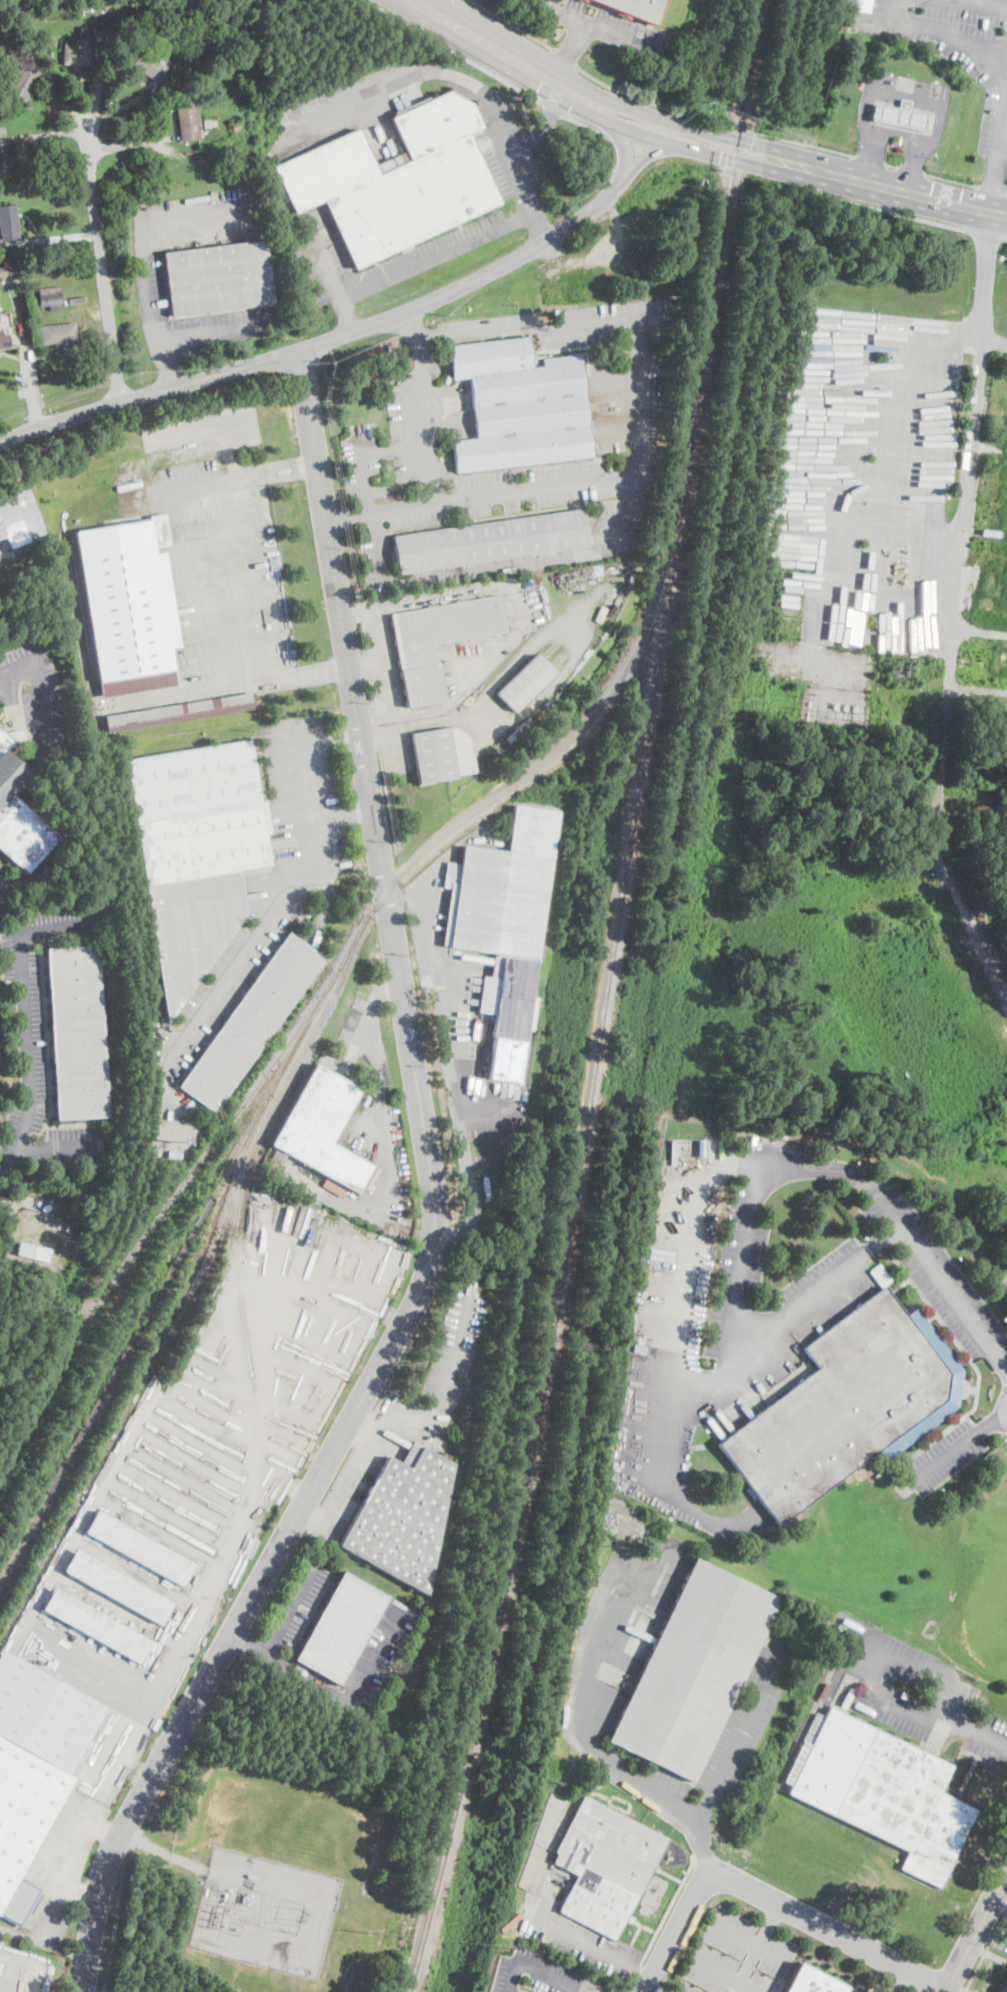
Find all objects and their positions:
road: (978, 3)
building: (857, 5)
building: (86, 6)
building: (635, 8)
road: (891, 9)
road: (511, 24)
parking lot: (608, 25)
road: (602, 28)
road: (939, 31)
road: (549, 32)
road: (481, 40)
building: (80, 47)
parking lot: (955, 47)
road: (450, 50)
road: (570, 52)
road: (567, 58)
building: (870, 61)
building: (150, 65)
building: (25, 80)
road: (559, 84)
parking lot: (908, 92)
road: (95, 93)
road: (908, 93)
road: (579, 95)
road: (68, 100)
parking lot: (359, 105)
road: (121, 108)
road: (551, 108)
road: (596, 109)
building: (902, 116)
road: (660, 118)
building: (187, 120)
road: (714, 121)
road: (542, 123)
road: (586, 126)
building: (235, 127)
road: (1002, 128)
road: (900, 130)
road: (42, 133)
road: (648, 136)
road: (286, 138)
road: (622, 139)
road: (131, 143)
road: (661, 151)
road: (712, 152)
road: (871, 152)
building: (5, 157)
road: (914, 158)
road: (870, 161)
road: (891, 166)
road: (911, 171)
building: (395, 180)
road: (952, 181)
road: (864, 182)
road: (995, 184)
road: (992, 190)
road: (1006, 193)
parking lot: (521, 200)
road: (893, 212)
building: (9, 222)
road: (540, 225)
road: (490, 232)
road: (985, 232)
road: (1006, 236)
road: (48, 238)
road: (101, 266)
building: (10, 267)
parking lot: (150, 277)
building: (217, 278)
road: (145, 284)
building: (553, 294)
building: (50, 296)
road: (87, 310)
road: (539, 326)
road: (11, 332)
building: (58, 333)
road: (330, 338)
road: (994, 339)
building: (4, 340)
road: (25, 354)
road: (166, 366)
road: (617, 380)
road: (425, 406)
building: (521, 406)
road: (620, 430)
road: (892, 434)
parking lot: (419, 442)
road: (395, 448)
parking lot: (868, 467)
road: (285, 469)
road: (364, 481)
road: (502, 494)
building: (19, 517)
road: (347, 518)
building: (490, 541)
road: (188, 551)
parking lot: (3, 552)
road: (583, 554)
parking lot: (224, 567)
road: (446, 593)
building: (130, 605)
road: (356, 608)
road: (956, 614)
road: (981, 632)
building: (439, 640)
road: (581, 640)
parking lot: (380, 658)
road: (378, 661)
road: (474, 677)
building: (525, 682)
road: (228, 688)
road: (40, 690)
parking lot: (37, 696)
power substation: (836, 704)
building: (181, 711)
road: (372, 719)
road: (409, 730)
building: (516, 732)
road: (344, 735)
road: (312, 740)
parking lot: (395, 749)
road: (397, 751)
building: (441, 754)
railway: (574, 799)
building: (19, 812)
road: (341, 817)
building: (196, 852)
road: (1, 882)
parking lot: (3, 885)
parking lot: (261, 894)
road: (326, 896)
road: (403, 898)
building: (504, 923)
railway: (362, 929)
railway: (129, 935)
road: (260, 937)
road: (385, 986)
railway: (606, 1000)
road: (436, 1002)
parking lot: (458, 1016)
building: (250, 1022)
building: (78, 1031)
parking lot: (42, 1037)
road: (26, 1041)
road: (524, 1076)
building: (319, 1128)
parking lot: (370, 1132)
railway: (543, 1154)
building: (174, 1155)
road: (11, 1160)
railway: (135, 1163)
road: (780, 1164)
road: (387, 1165)
railway: (194, 1171)
road: (470, 1187)
road: (435, 1208)
road: (354, 1222)
parking lot: (748, 1228)
building: (34, 1252)
road: (323, 1259)
road: (344, 1262)
road: (742, 1265)
road: (268, 1269)
road: (364, 1270)
parking lot: (938, 1273)
road: (382, 1277)
road: (393, 1283)
parking lot: (825, 1288)
road: (279, 1290)
railway: (194, 1292)
road: (336, 1302)
road: (290, 1313)
road: (224, 1335)
road: (251, 1339)
road: (309, 1339)
building: (640, 1339)
railway: (513, 1345)
road: (759, 1345)
parking lot: (456, 1347)
railway: (132, 1350)
road: (455, 1352)
road: (221, 1354)
road: (312, 1365)
road: (1004, 1366)
road: (244, 1370)
road: (218, 1371)
road: (306, 1378)
road: (217, 1390)
road: (298, 1395)
building: (847, 1405)
road: (215, 1406)
road: (409, 1411)
road: (292, 1413)
road: (993, 1422)
road: (204, 1425)
road: (363, 1426)
road: (285, 1431)
railway: (74, 1445)
road: (201, 1445)
road: (281, 1451)
road: (944, 1456)
parking lot: (942, 1457)
building: (301, 1461)
road: (356, 1464)
road: (196, 1465)
parking lot: (654, 1466)
road: (188, 1480)
road: (297, 1487)
road: (274, 1490)
road: (179, 1496)
road: (693, 1506)
road: (169, 1514)
building: (403, 1516)
road: (312, 1518)
road: (85, 1519)
road: (160, 1531)
building: (139, 1548)
road: (139, 1571)
building: (118, 1586)
road: (98, 1599)
parking lot: (301, 1602)
road: (291, 1609)
building: (340, 1624)
building: (97, 1625)
road: (372, 1654)
road: (175, 1657)
parking lot: (377, 1657)
parking lot: (608, 1659)
road: (288, 1667)
building: (693, 1670)
road: (96, 1673)
parking lot: (919, 1692)
road: (930, 1720)
road: (971, 1725)
building: (34, 1767)
road: (643, 1784)
building: (883, 1790)
road: (106, 1828)
road: (700, 1849)
road: (169, 1854)
building: (605, 1865)
parking lot: (62, 1869)
road: (53, 1894)
road: (770, 1901)
road: (999, 1904)
road: (538, 1911)
power substation: (265, 1912)
parking lot: (572, 1931)
road: (975, 1931)
road: (750, 1940)
road: (991, 1940)
road: (758, 1949)
road: (987, 1953)
parking lot: (738, 1957)
road: (15, 1961)
road: (535, 1970)
parking lot: (536, 1973)
road: (997, 1975)
road: (724, 1976)
road: (643, 1977)
road: (27, 1978)
building: (813, 1981)
road: (899, 1981)
road: (13, 1982)
building: (1004, 1986)
road: (653, 1989)
road: (954, 1989)
parking lot: (869, 1991)

